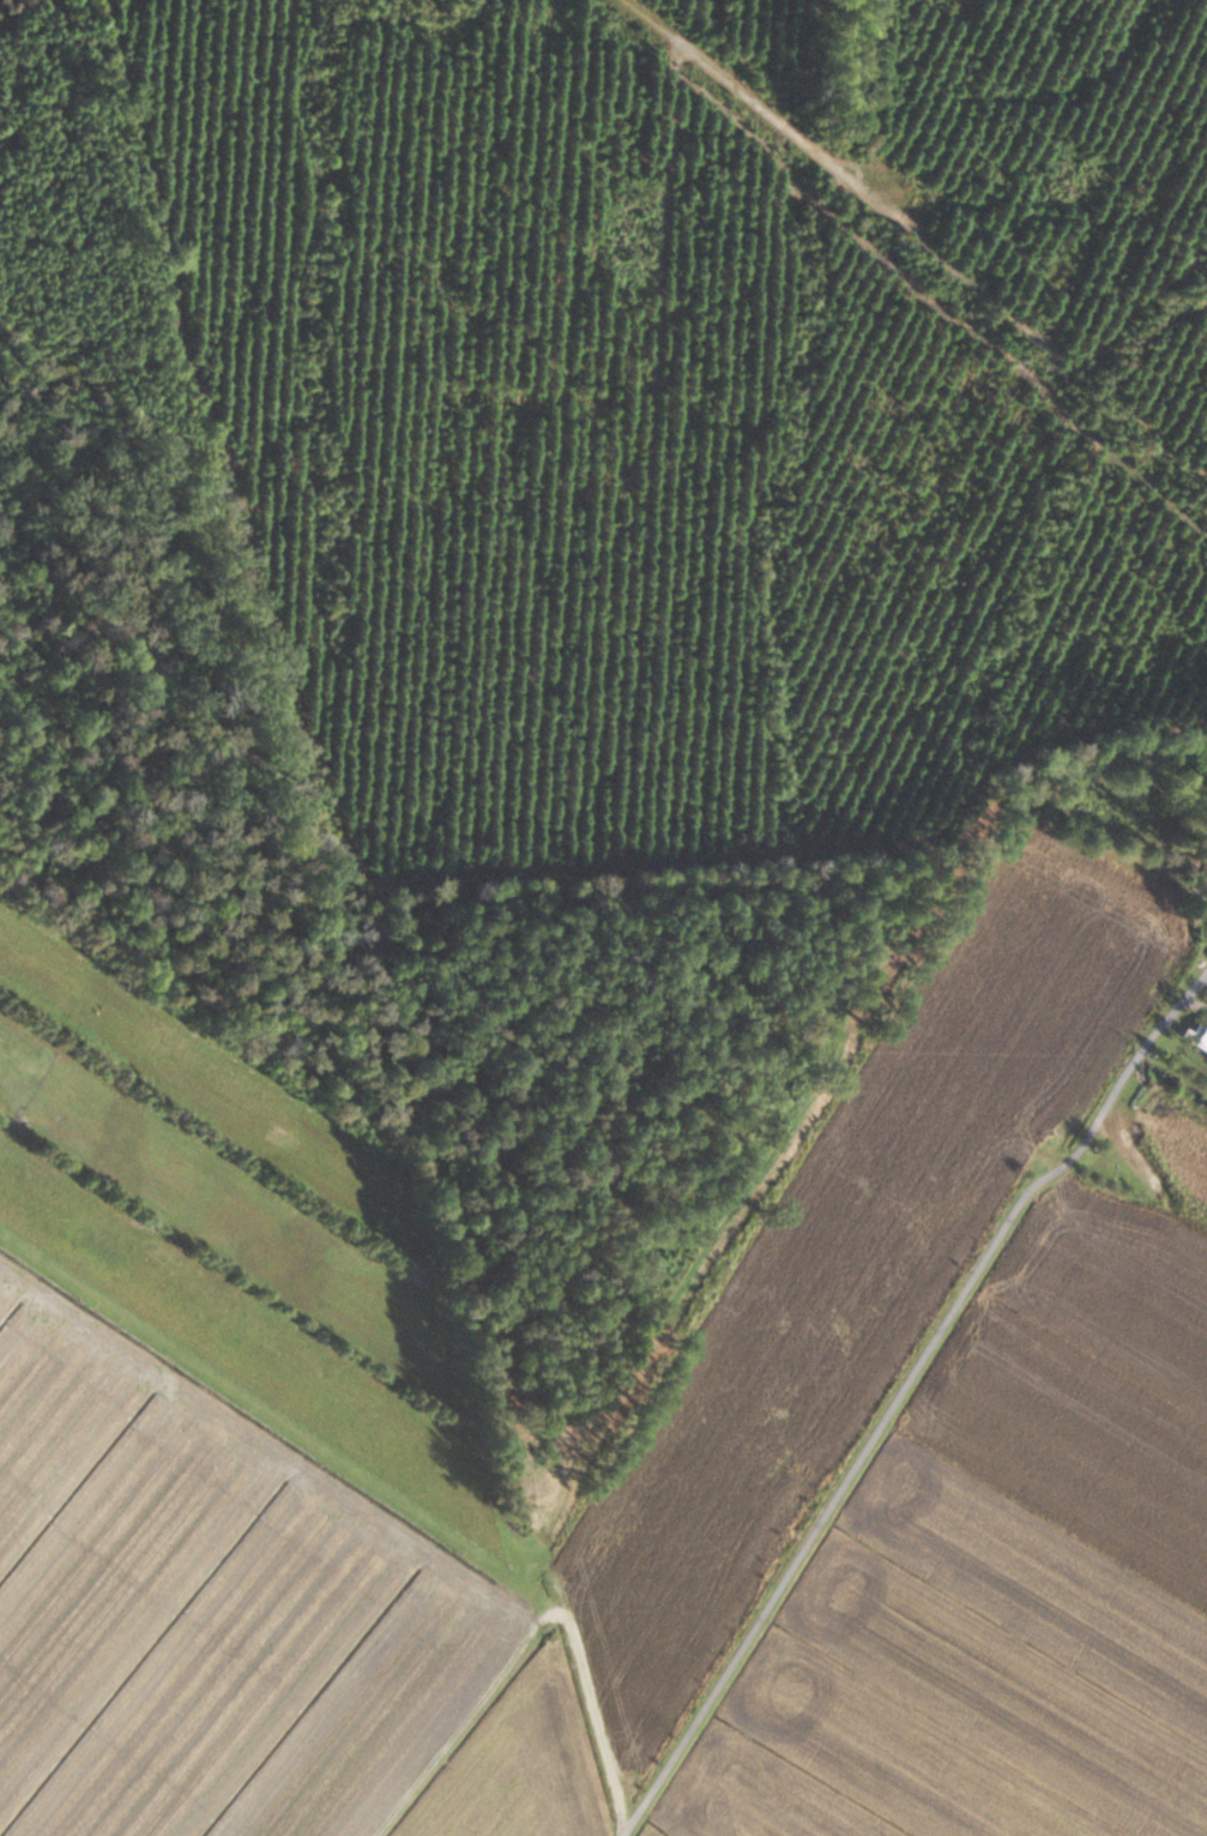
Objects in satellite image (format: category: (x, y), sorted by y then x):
building: (1201, 1039)

